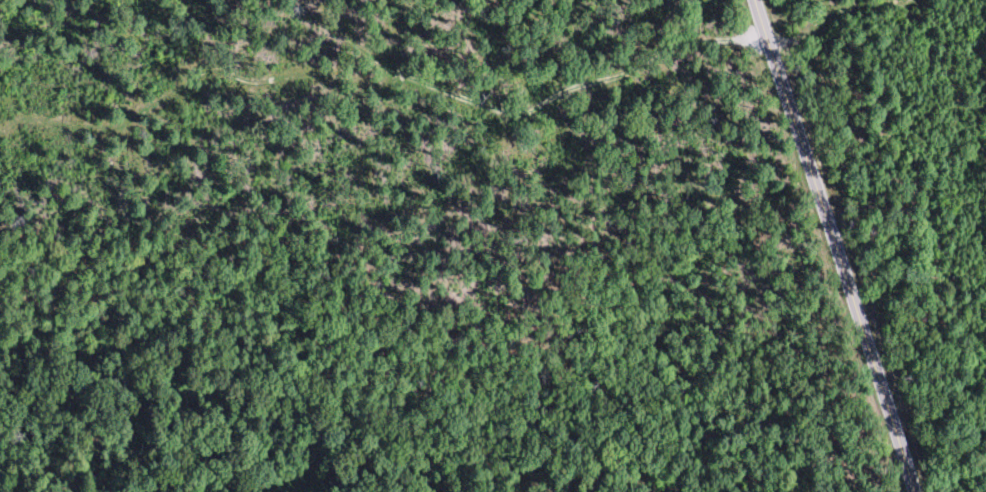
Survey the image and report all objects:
road: (833, 246)

